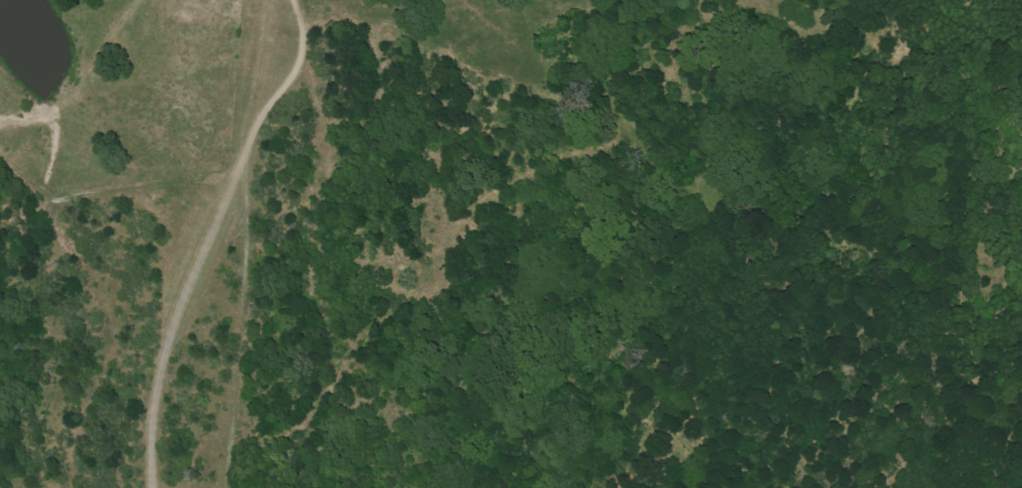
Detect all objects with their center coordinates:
road: (312, 240)
road: (385, 370)

